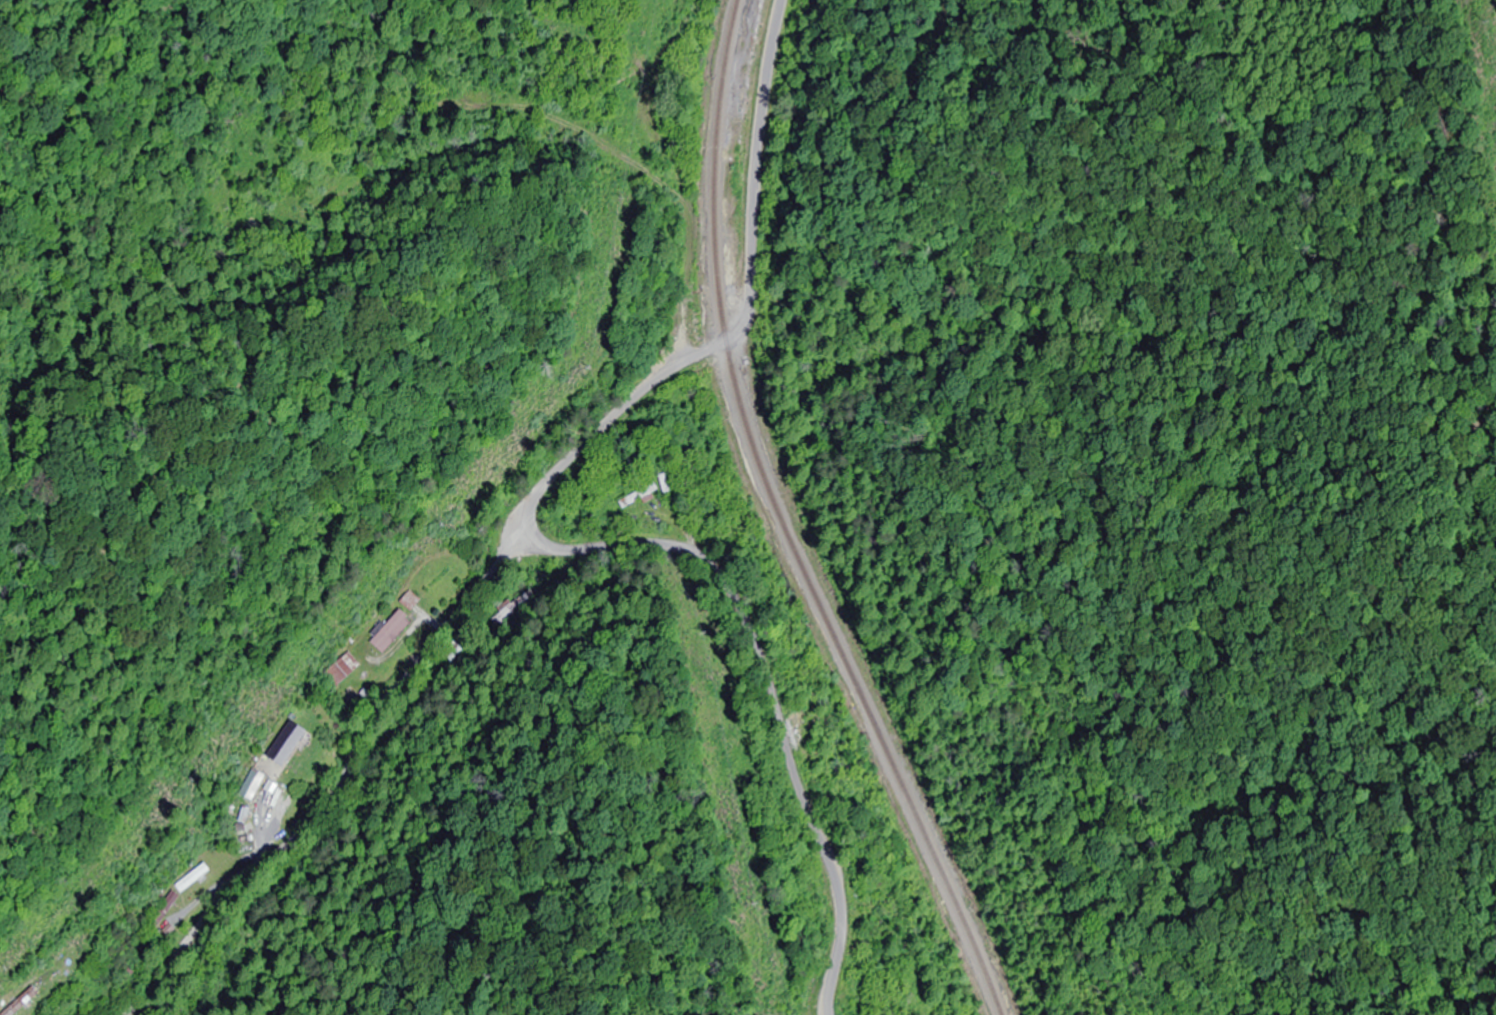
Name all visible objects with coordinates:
road: (606, 145)
road: (754, 198)
road: (593, 435)
building: (672, 486)
building: (643, 497)
railway: (783, 524)
building: (511, 610)
building: (393, 630)
building: (345, 669)
road: (785, 680)
building: (289, 743)
road: (300, 769)
building: (252, 792)
building: (196, 879)
building: (26, 1002)

